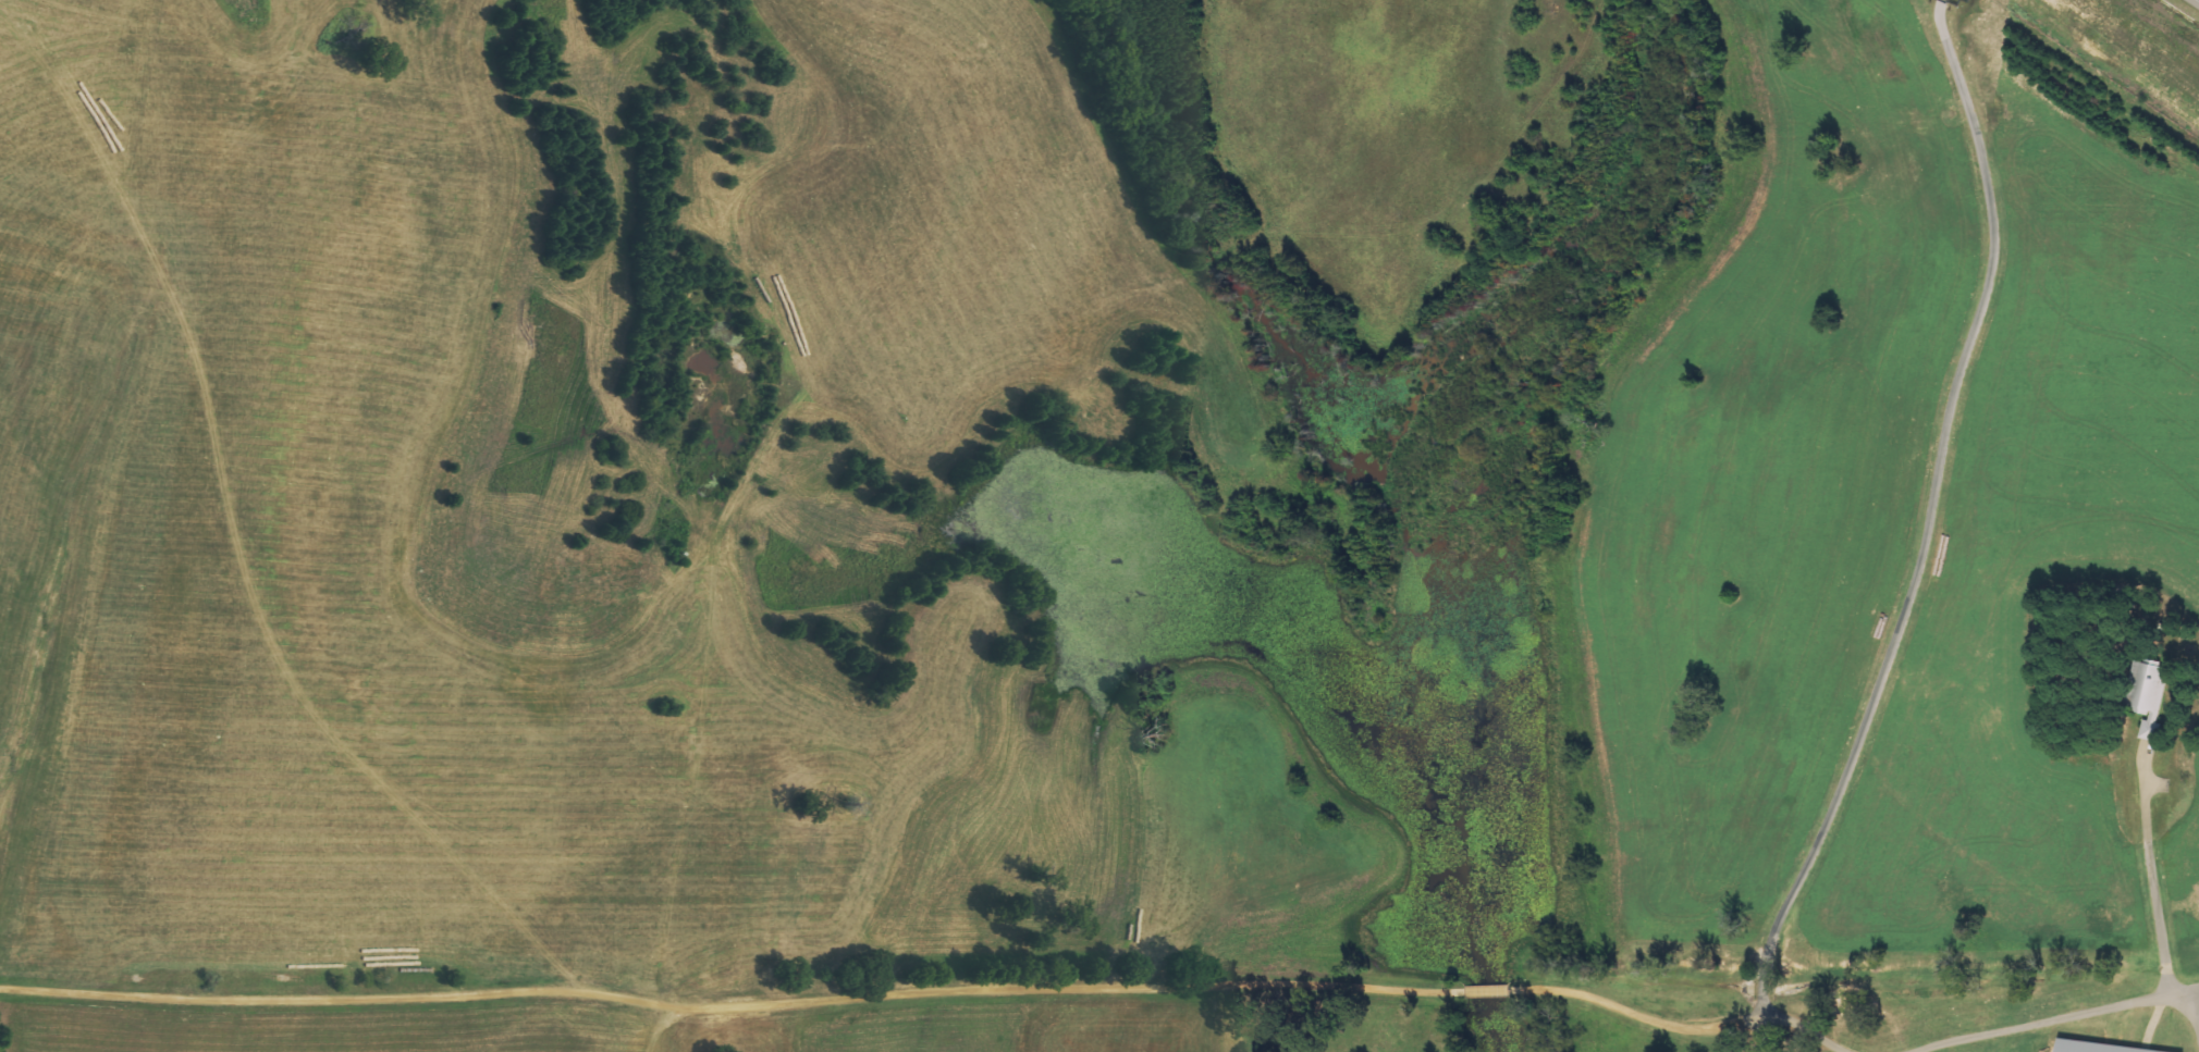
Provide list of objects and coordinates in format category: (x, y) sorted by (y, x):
road: (1928, 532)
building: (2149, 698)
road: (2060, 1019)
road: (1806, 1026)
building: (2092, 1048)

